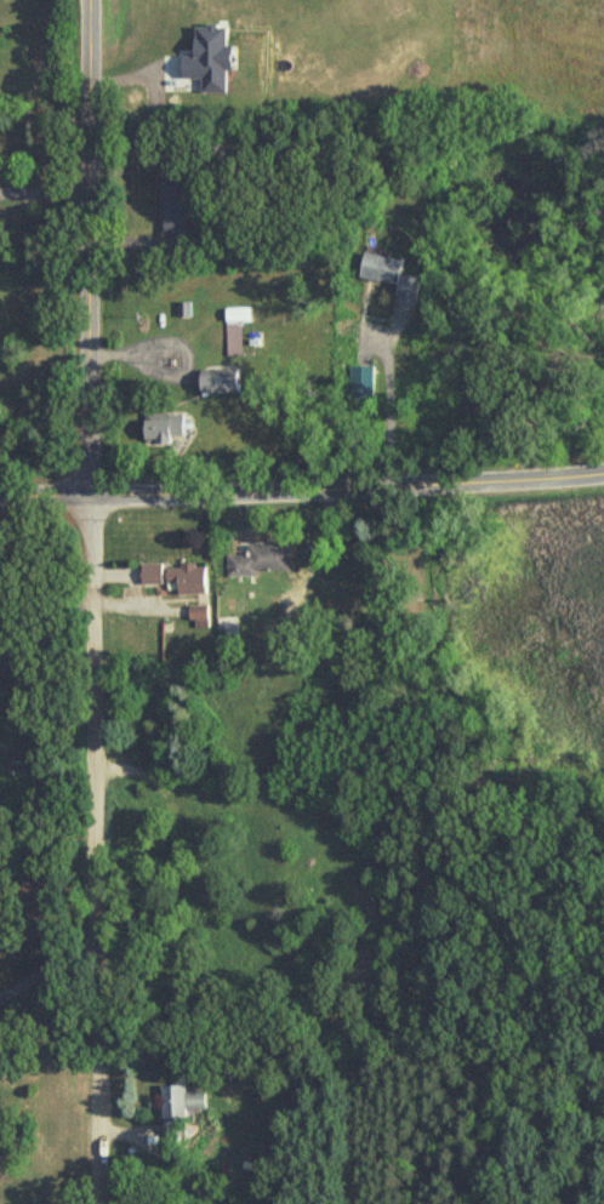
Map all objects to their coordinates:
road: (90, 249)
building: (378, 274)
building: (243, 333)
building: (230, 381)
road: (388, 411)
road: (347, 491)
road: (45, 500)
building: (269, 559)
building: (199, 580)
building: (204, 616)
road: (51, 628)
road: (95, 851)
road: (45, 964)
building: (184, 1109)

